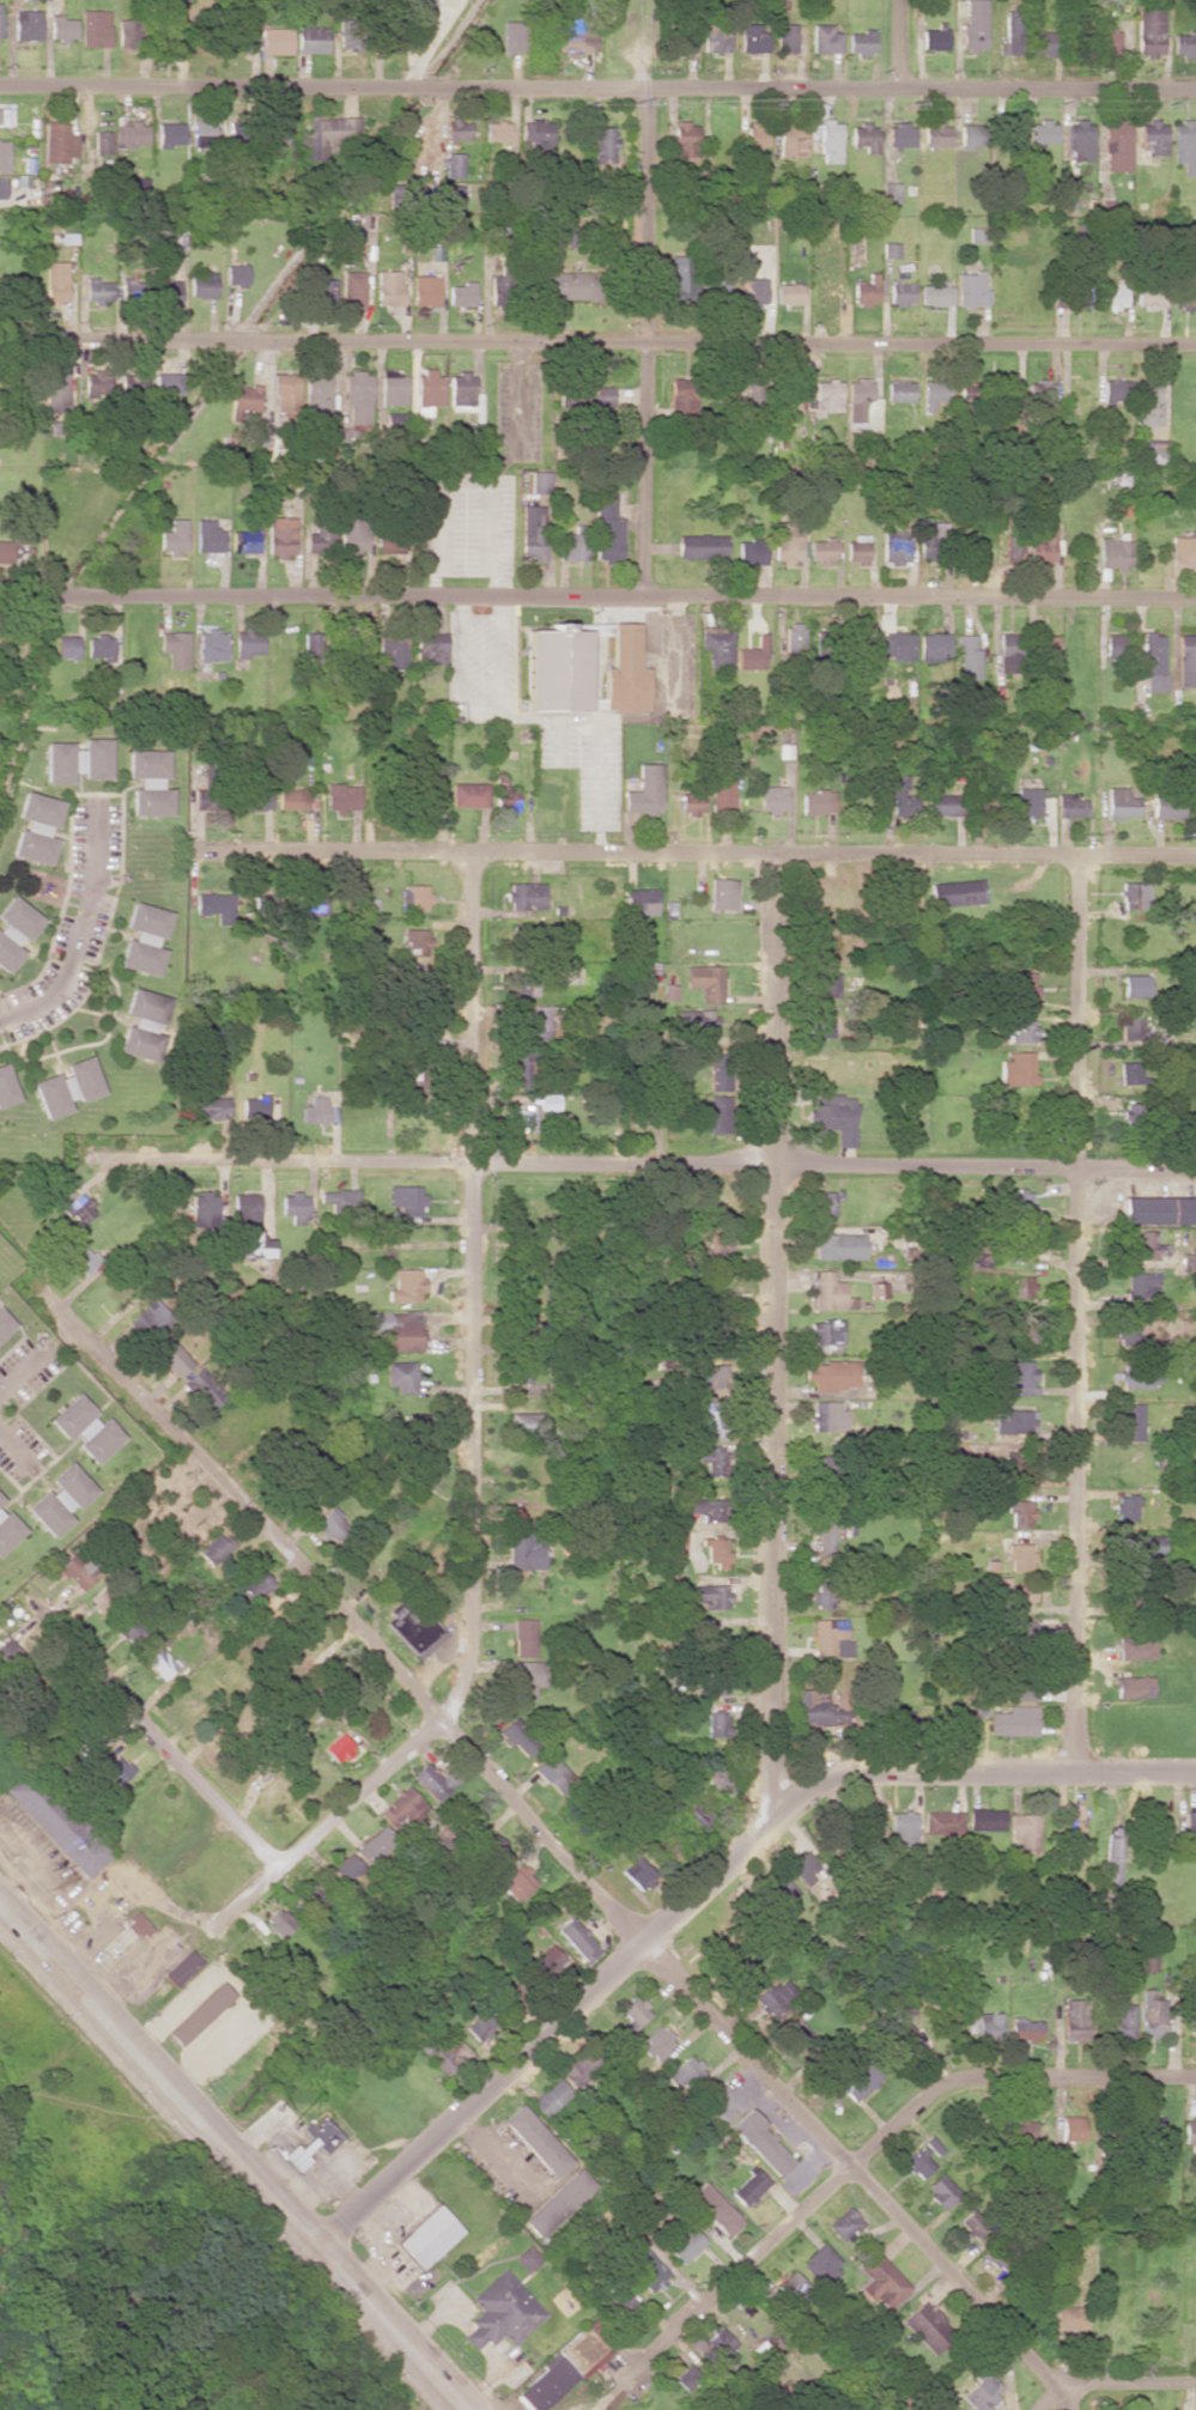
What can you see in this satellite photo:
building: (424, 10)
building: (0, 19)
building: (26, 24)
building: (973, 25)
building: (61, 28)
building: (95, 28)
building: (165, 31)
building: (1149, 31)
building: (576, 32)
building: (132, 34)
building: (512, 36)
building: (717, 36)
building: (1012, 36)
building: (312, 37)
building: (784, 37)
building: (935, 37)
building: (348, 38)
building: (752, 38)
building: (825, 38)
building: (685, 40)
building: (277, 41)
building: (861, 42)
road: (901, 42)
building: (1040, 42)
building: (1106, 43)
building: (1184, 43)
road: (597, 90)
building: (459, 129)
building: (237, 130)
building: (1044, 132)
building: (326, 133)
building: (498, 133)
building: (536, 133)
building: (130, 134)
building: (170, 134)
building: (273, 134)
building: (936, 134)
building: (755, 135)
building: (899, 135)
building: (973, 135)
building: (863, 136)
building: (1152, 136)
building: (685, 139)
building: (103, 141)
building: (791, 141)
building: (830, 141)
building: (1080, 141)
building: (59, 142)
building: (603, 142)
building: (1116, 145)
building: (1184, 146)
building: (4, 157)
building: (26, 164)
building: (454, 165)
building: (397, 180)
building: (2, 188)
building: (890, 192)
building: (454, 196)
building: (567, 230)
building: (976, 235)
building: (888, 249)
building: (236, 274)
building: (680, 278)
building: (56, 281)
building: (388, 281)
building: (426, 284)
building: (572, 284)
building: (202, 285)
building: (499, 287)
building: (98, 290)
building: (353, 290)
building: (715, 290)
building: (864, 290)
building: (970, 290)
building: (326, 291)
building: (752, 292)
building: (822, 292)
building: (1071, 292)
building: (168, 293)
building: (462, 293)
building: (787, 293)
building: (899, 293)
building: (935, 293)
building: (1148, 296)
building: (1112, 297)
building: (1183, 298)
road: (597, 341)
road: (648, 341)
building: (132, 383)
building: (169, 383)
building: (96, 384)
building: (393, 387)
building: (429, 388)
building: (1004, 388)
building: (899, 390)
building: (967, 391)
building: (55, 393)
building: (284, 393)
building: (317, 393)
building: (1039, 393)
building: (1115, 393)
building: (465, 394)
building: (933, 394)
building: (595, 395)
building: (826, 395)
building: (358, 396)
building: (243, 400)
building: (680, 400)
building: (860, 402)
building: (1147, 402)
building: (1152, 453)
building: (540, 481)
building: (607, 527)
building: (533, 533)
building: (280, 535)
building: (353, 535)
building: (174, 536)
building: (207, 536)
building: (930, 536)
building: (320, 538)
building: (244, 540)
building: (390, 544)
building: (573, 545)
building: (1012, 545)
building: (1043, 545)
building: (700, 546)
building: (785, 547)
building: (894, 547)
building: (4, 550)
building: (821, 550)
building: (751, 551)
building: (856, 551)
building: (1112, 553)
building: (1182, 553)
road: (597, 595)
building: (858, 636)
building: (794, 641)
building: (248, 643)
building: (212, 645)
building: (896, 645)
building: (1045, 645)
building: (1115, 645)
building: (66, 646)
building: (99, 646)
building: (311, 646)
building: (717, 646)
building: (933, 646)
building: (175, 648)
building: (431, 648)
building: (393, 649)
building: (359, 651)
building: (753, 655)
building: (967, 657)
building: (1151, 660)
building: (1185, 660)
building: (555, 668)
building: (625, 672)
building: (77, 760)
building: (148, 782)
building: (644, 790)
building: (468, 794)
building: (504, 794)
building: (899, 795)
building: (721, 796)
building: (341, 797)
building: (257, 799)
building: (291, 799)
building: (690, 799)
building: (771, 799)
building: (815, 801)
building: (1027, 801)
building: (994, 802)
building: (942, 803)
building: (1119, 803)
building: (1195, 805)
building: (1069, 806)
building: (1165, 808)
building: (36, 827)
road: (332, 852)
road: (832, 854)
building: (955, 892)
building: (722, 893)
building: (527, 896)
building: (1135, 896)
building: (414, 898)
building: (639, 902)
building: (214, 903)
building: (312, 904)
building: (14, 930)
road: (79, 935)
building: (415, 937)
building: (144, 939)
building: (413, 973)
building: (705, 981)
building: (826, 984)
building: (1022, 984)
building: (1135, 984)
building: (528, 988)
building: (697, 1021)
building: (142, 1024)
building: (1129, 1026)
building: (821, 1027)
building: (1019, 1030)
building: (526, 1068)
building: (1016, 1068)
building: (718, 1070)
building: (409, 1073)
building: (1129, 1073)
building: (6, 1086)
building: (68, 1087)
building: (547, 1101)
building: (255, 1105)
building: (210, 1106)
building: (315, 1110)
building: (1130, 1111)
building: (718, 1113)
building: (833, 1116)
building: (520, 1119)
road: (609, 1160)
building: (339, 1198)
building: (405, 1198)
building: (825, 1201)
building: (1018, 1201)
building: (295, 1206)
building: (80, 1209)
building: (204, 1209)
building: (1158, 1209)
building: (838, 1245)
building: (714, 1246)
building: (1151, 1246)
building: (81, 1258)
building: (403, 1286)
building: (1141, 1286)
road: (468, 1287)
building: (1022, 1287)
building: (826, 1291)
road: (1077, 1312)
road: (767, 1315)
building: (148, 1321)
building: (4, 1325)
building: (396, 1330)
building: (712, 1330)
building: (826, 1331)
building: (1127, 1334)
building: (1022, 1336)
building: (172, 1355)
road: (34, 1358)
building: (522, 1368)
building: (832, 1374)
building: (1137, 1374)
building: (400, 1376)
building: (706, 1376)
building: (1021, 1378)
building: (205, 1388)
building: (827, 1415)
building: (716, 1420)
building: (1013, 1420)
building: (1130, 1421)
building: (524, 1423)
building: (85, 1428)
building: (417, 1441)
building: (711, 1459)
building: (1015, 1463)
building: (820, 1471)
road: (220, 1483)
building: (0, 1499)
building: (60, 1499)
building: (1125, 1506)
building: (704, 1507)
building: (1020, 1512)
building: (328, 1524)
building: (7, 1529)
building: (824, 1530)
building: (674, 1543)
building: (1141, 1546)
building: (214, 1548)
building: (523, 1550)
building: (716, 1552)
building: (1020, 1555)
building: (75, 1571)
building: (255, 1585)
building: (1019, 1592)
building: (714, 1595)
building: (824, 1595)
building: (102, 1599)
building: (274, 1614)
building: (411, 1627)
building: (129, 1632)
building: (827, 1635)
building: (523, 1637)
building: (302, 1645)
building: (10, 1647)
building: (1135, 1647)
building: (160, 1663)
building: (526, 1677)
building: (31, 1686)
building: (715, 1686)
building: (1133, 1687)
building: (1025, 1692)
building: (816, 1707)
building: (1013, 1720)
building: (717, 1724)
building: (518, 1736)
road: (162, 1742)
building: (338, 1748)
building: (116, 1769)
building: (554, 1773)
road: (869, 1774)
building: (717, 1779)
building: (431, 1780)
building: (403, 1810)
building: (696, 1816)
building: (985, 1819)
building: (1071, 1819)
building: (1190, 1821)
building: (942, 1822)
road: (323, 1823)
building: (56, 1825)
road: (540, 1828)
building: (904, 1828)
building: (1026, 1831)
building: (866, 1843)
building: (377, 1845)
building: (1113, 1854)
building: (347, 1866)
building: (803, 1866)
building: (638, 1872)
building: (517, 1882)
building: (777, 1886)
building: (311, 1901)
building: (279, 1923)
building: (125, 1937)
building: (578, 1938)
building: (551, 1957)
building: (182, 1967)
building: (747, 1972)
building: (505, 1997)
building: (200, 2013)
building: (1152, 2014)
building: (1075, 2019)
building: (1123, 2019)
building: (479, 2023)
building: (989, 2026)
building: (1025, 2029)
building: (913, 2040)
building: (658, 2042)
building: (447, 2050)
building: (581, 2069)
building: (686, 2075)
road: (154, 2076)
building: (860, 2080)
road: (476, 2093)
building: (551, 2098)
building: (1071, 2127)
building: (1153, 2129)
building: (1190, 2135)
building: (312, 2141)
building: (536, 2141)
building: (761, 2143)
building: (933, 2144)
road: (856, 2160)
building: (917, 2161)
road: (861, 2175)
building: (749, 2186)
building: (941, 2190)
building: (559, 2202)
building: (716, 2208)
building: (844, 2223)
building: (975, 2223)
building: (429, 2236)
building: (686, 2245)
building: (528, 2258)
building: (822, 2263)
building: (648, 2270)
building: (882, 2281)
building: (794, 2288)
building: (620, 2303)
building: (503, 2311)
building: (1195, 2312)
building: (1070, 2318)
road: (387, 2326)
building: (928, 2327)
building: (717, 2347)
building: (564, 2367)
building: (685, 2376)
road: (1115, 2384)
building: (982, 2392)
road: (444, 2404)

